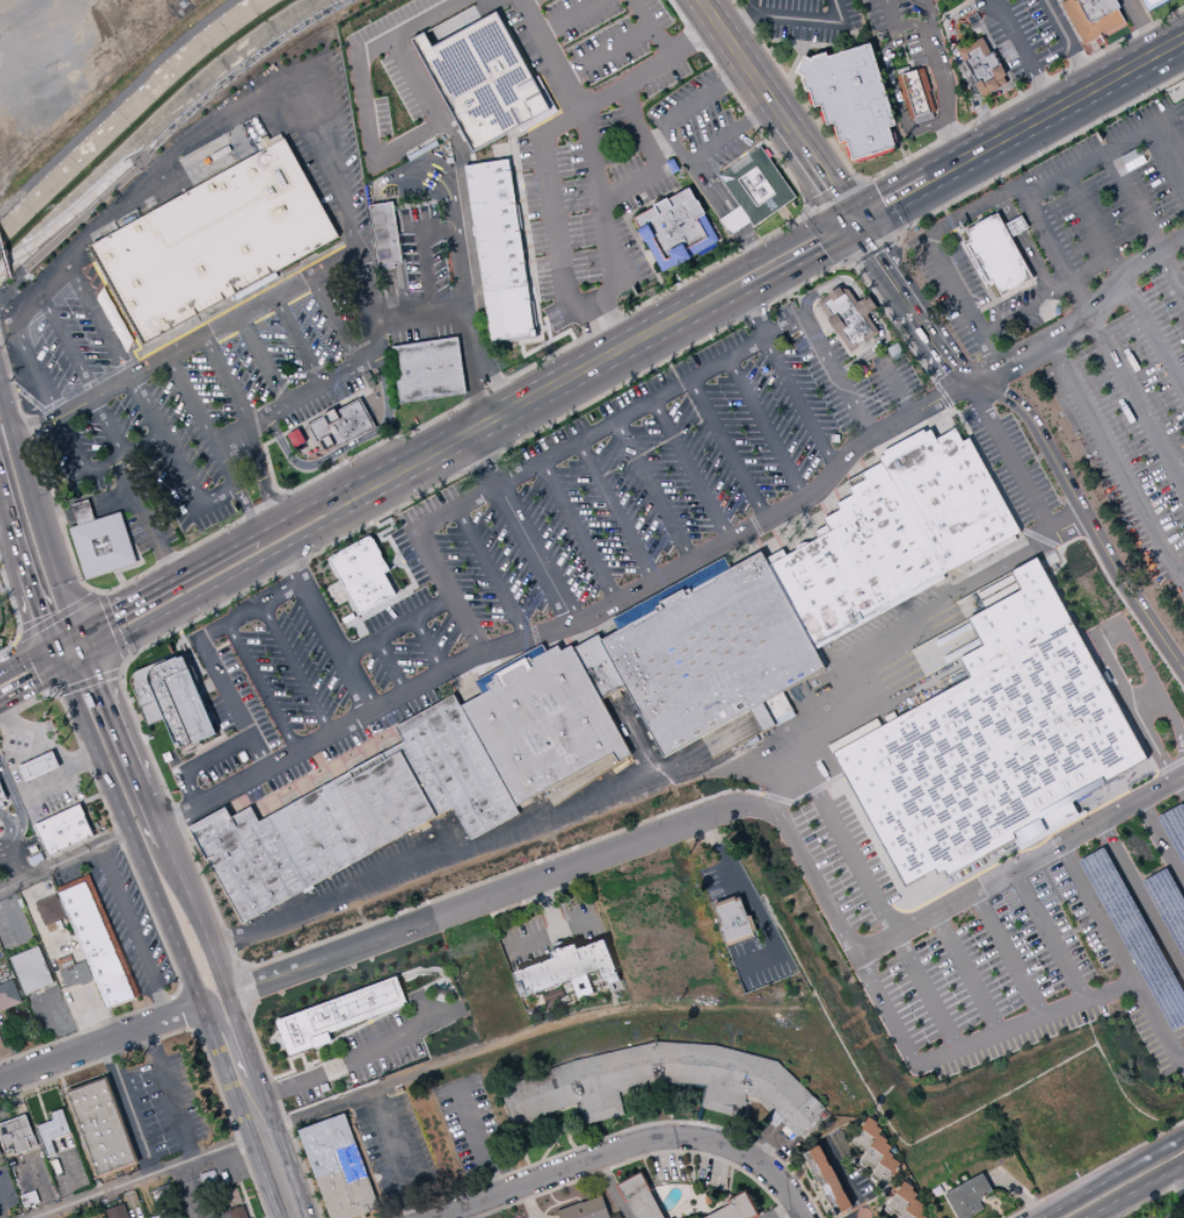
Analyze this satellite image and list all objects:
building: (1153, 4)
road: (752, 7)
road: (1145, 12)
road: (566, 16)
road: (929, 16)
building: (1095, 17)
road: (797, 19)
road: (651, 25)
road: (899, 25)
road: (1140, 25)
road: (799, 42)
road: (1068, 42)
road: (605, 50)
road: (1023, 53)
road: (550, 56)
road: (906, 56)
road: (797, 62)
road: (1000, 62)
road: (959, 63)
building: (983, 67)
road: (241, 69)
road: (416, 76)
building: (484, 81)
road: (893, 85)
road: (1172, 87)
road: (362, 92)
building: (916, 93)
road: (945, 97)
building: (853, 98)
road: (687, 109)
road: (776, 109)
road: (1052, 109)
road: (333, 128)
road: (730, 133)
road: (660, 144)
road: (900, 144)
road: (1120, 146)
road: (926, 149)
road: (1035, 156)
road: (653, 158)
road: (718, 181)
road: (861, 181)
building: (757, 186)
road: (376, 187)
road: (707, 189)
road: (837, 196)
road: (885, 201)
road: (651, 203)
road: (809, 208)
road: (877, 209)
road: (70, 215)
road: (741, 217)
road: (786, 217)
traffic signals: (850, 220)
road: (524, 221)
building: (734, 221)
road: (732, 224)
building: (495, 225)
road: (1144, 225)
road: (68, 226)
road: (1041, 226)
building: (676, 230)
road: (539, 231)
road: (746, 231)
building: (386, 233)
road: (554, 233)
road: (897, 235)
road: (832, 236)
building: (213, 242)
road: (639, 243)
road: (749, 243)
road: (871, 246)
building: (995, 255)
road: (423, 256)
road: (801, 261)
road: (747, 262)
road: (972, 262)
road: (1124, 284)
road: (827, 287)
road: (1016, 290)
road: (466, 295)
road: (913, 299)
road: (237, 302)
road: (865, 307)
road: (897, 308)
road: (1024, 308)
road: (416, 314)
road: (703, 316)
road: (755, 316)
building: (513, 317)
building: (850, 317)
road: (98, 319)
road: (612, 319)
road: (1079, 321)
road: (335, 322)
road: (590, 331)
road: (553, 340)
road: (299, 341)
road: (68, 347)
road: (185, 347)
road: (871, 351)
road: (262, 362)
building: (428, 370)
road: (691, 379)
road: (226, 381)
road: (495, 382)
road: (895, 385)
road: (475, 391)
road: (191, 400)
road: (799, 404)
road: (7, 408)
road: (512, 408)
road: (325, 411)
road: (441, 416)
road: (62, 420)
road: (106, 427)
road: (766, 428)
building: (331, 431)
road: (7, 435)
road: (279, 437)
road: (348, 445)
road: (728, 449)
road: (1117, 460)
road: (173, 461)
road: (226, 464)
road: (268, 466)
road: (1020, 467)
road: (691, 469)
road: (260, 473)
road: (653, 491)
building: (949, 496)
road: (111, 501)
road: (307, 501)
road: (247, 507)
road: (1087, 508)
road: (82, 510)
building: (82, 512)
road: (616, 512)
road: (56, 518)
road: (145, 518)
road: (400, 518)
road: (11, 524)
road: (6, 526)
road: (520, 526)
road: (579, 532)
road: (42, 535)
building: (103, 544)
road: (1018, 550)
road: (210, 556)
building: (857, 560)
road: (133, 566)
road: (439, 571)
road: (491, 573)
building: (362, 576)
road: (1183, 576)
road: (232, 579)
road: (1051, 582)
road: (411, 591)
road: (91, 600)
road: (18, 606)
road: (37, 607)
road: (122, 607)
road: (238, 616)
road: (626, 619)
road: (571, 623)
road: (58, 627)
road: (397, 627)
road: (327, 630)
road: (172, 631)
traffic signals: (77, 634)
road: (357, 635)
road: (100, 637)
road: (65, 640)
road: (29, 645)
road: (82, 645)
road: (428, 645)
traffic signals: (53, 647)
building: (711, 650)
traffic signals: (87, 657)
road: (58, 658)
road: (27, 662)
road: (75, 663)
road: (391, 665)
road: (42, 666)
building: (600, 666)
road: (119, 668)
traffic signals: (63, 669)
road: (296, 669)
road: (85, 676)
road: (30, 683)
road: (261, 687)
road: (56, 691)
building: (173, 700)
road: (213, 716)
building: (763, 717)
building: (542, 721)
road: (114, 722)
road: (249, 737)
building: (992, 738)
building: (37, 767)
building: (0, 777)
road: (60, 777)
building: (579, 780)
gas station: (45, 784)
building: (1, 793)
building: (397, 795)
road: (802, 798)
road: (613, 800)
road: (15, 801)
road: (822, 802)
road: (154, 816)
road: (10, 822)
building: (63, 830)
road: (133, 837)
road: (698, 837)
road: (1163, 839)
road: (8, 844)
road: (984, 858)
road: (21, 859)
road: (64, 861)
building: (247, 861)
building: (41, 891)
road: (537, 897)
road: (146, 900)
road: (1143, 900)
road: (755, 905)
road: (548, 906)
road: (463, 908)
building: (52, 916)
road: (198, 919)
building: (734, 920)
road: (911, 924)
road: (133, 933)
road: (551, 935)
building: (98, 941)
building: (67, 948)
road: (1009, 957)
road: (416, 963)
road: (369, 965)
road: (241, 966)
road: (412, 969)
building: (31, 970)
building: (568, 970)
building: (76, 975)
road: (455, 975)
road: (965, 976)
road: (212, 981)
road: (244, 988)
road: (306, 989)
road: (181, 991)
road: (1091, 991)
building: (8, 995)
road: (924, 995)
road: (190, 1009)
road: (204, 1015)
building: (339, 1015)
road: (221, 1016)
road: (585, 1016)
road: (235, 1020)
road: (223, 1022)
road: (1035, 1022)
road: (195, 1028)
road: (191, 1031)
road: (341, 1033)
road: (330, 1038)
road: (100, 1044)
road: (327, 1044)
road: (247, 1058)
road: (224, 1064)
road: (339, 1066)
road: (63, 1083)
road: (253, 1086)
building: (562, 1090)
road: (168, 1093)
road: (41, 1102)
road: (131, 1107)
road: (323, 1109)
road: (559, 1110)
road: (284, 1113)
building: (103, 1126)
building: (52, 1130)
road: (619, 1133)
building: (16, 1135)
road: (477, 1138)
road: (568, 1138)
building: (64, 1143)
road: (628, 1144)
road: (769, 1147)
building: (876, 1151)
road: (395, 1154)
building: (0, 1155)
road: (272, 1158)
road: (639, 1159)
building: (339, 1167)
building: (19, 1168)
road: (1097, 1168)
road: (692, 1173)
road: (1180, 1173)
road: (148, 1174)
road: (843, 1177)
road: (1114, 1177)
road: (67, 1179)
building: (828, 1179)
road: (41, 1182)
road: (612, 1188)
road: (1017, 1190)
road: (184, 1191)
road: (1136, 1191)
building: (27, 1193)
building: (164, 1193)
building: (640, 1196)
building: (969, 1196)
building: (230, 1197)
road: (553, 1199)
road: (1148, 1199)
road: (247, 1200)
road: (814, 1200)
road: (527, 1201)
road: (559, 1203)
building: (906, 1203)
building: (739, 1207)
road: (987, 1207)
building: (587, 1210)
road: (780, 1210)
building: (117, 1212)
building: (236, 1212)
road: (0, 1216)
building: (160, 1217)
road: (798, 1217)
road: (861, 1217)

